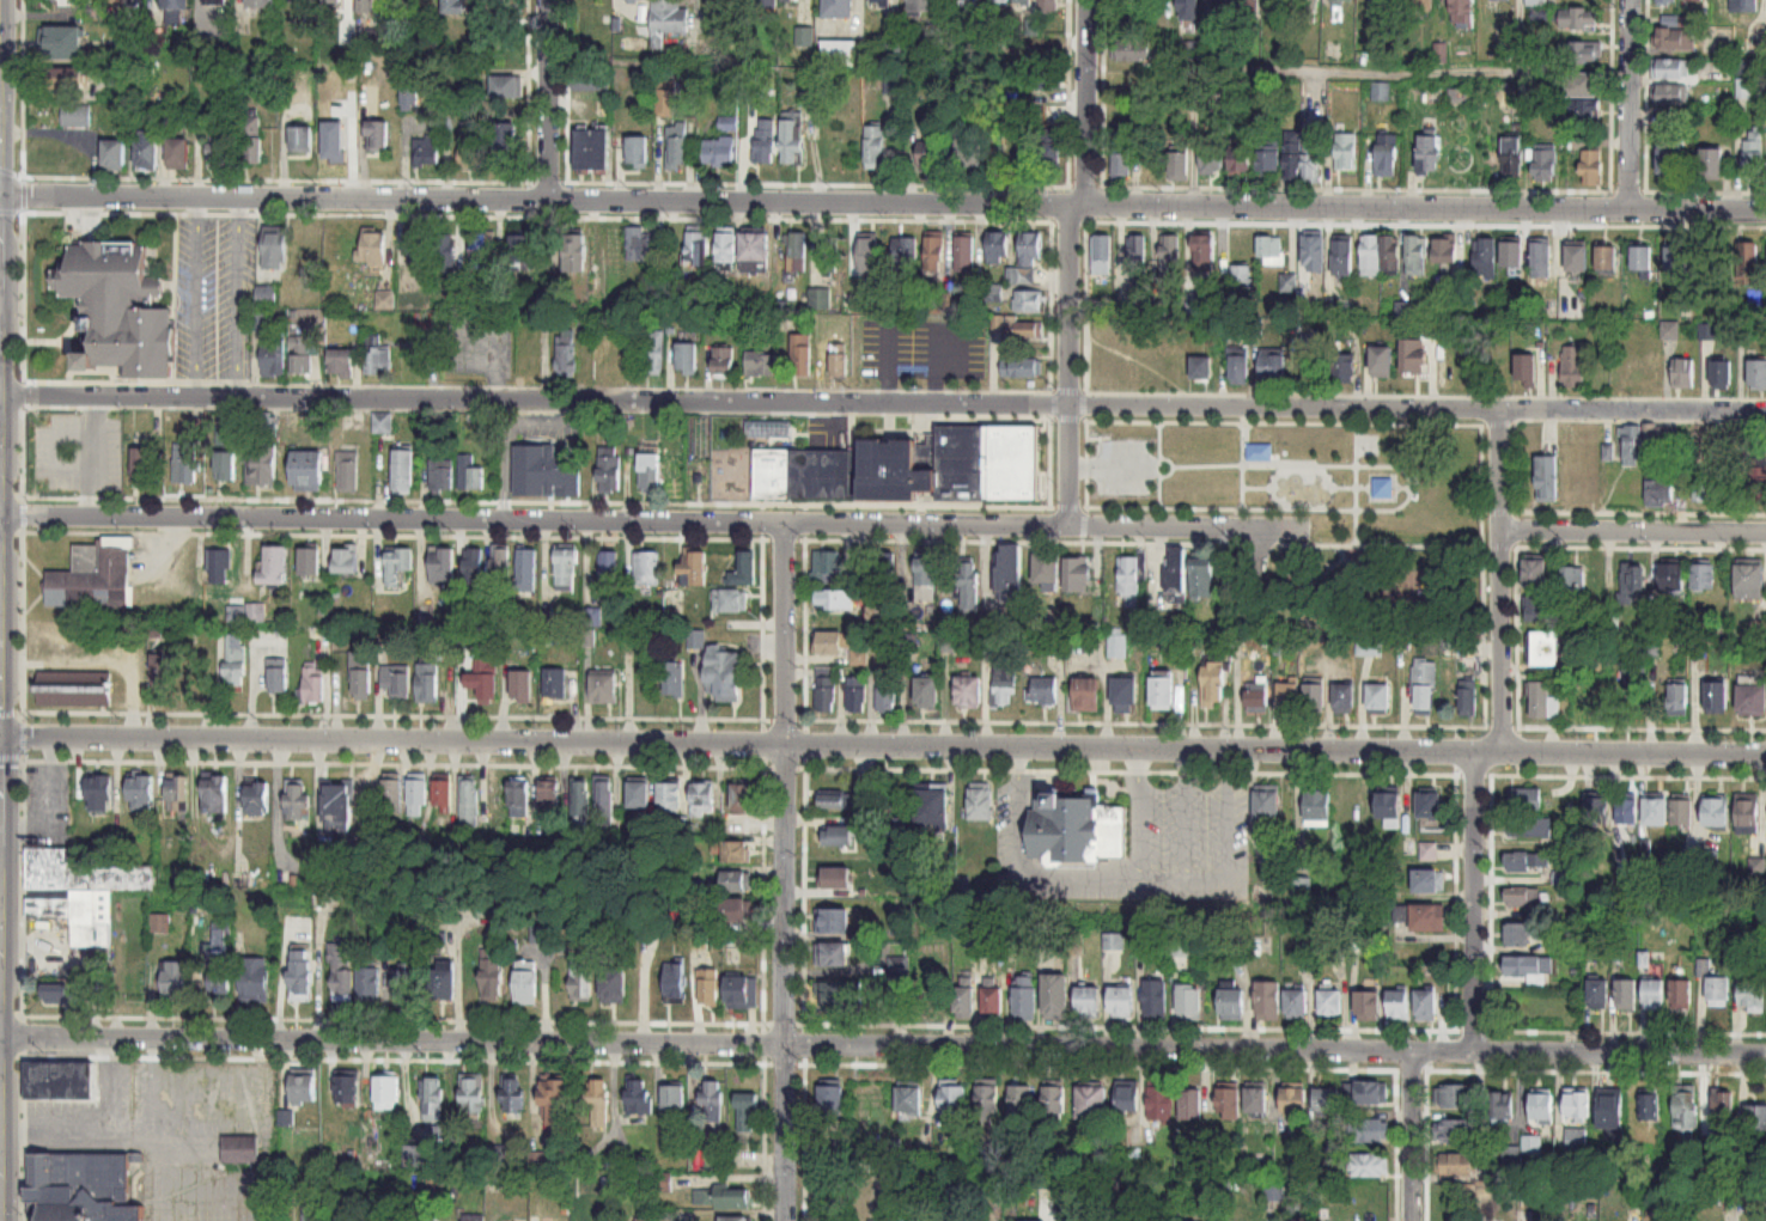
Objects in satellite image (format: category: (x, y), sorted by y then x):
building: (881, 0)
building: (1218, 0)
building: (1500, 0)
building: (296, 1)
building: (495, 1)
building: (1000, 1)
building: (1280, 1)
building: (1344, 1)
building: (1667, 1)
building: (1694, 1)
building: (1022, 2)
building: (1537, 2)
building: (65, 4)
building: (968, 4)
building: (173, 5)
building: (258, 5)
building: (390, 5)
building: (767, 5)
building: (364, 6)
building: (1423, 6)
building: (1749, 6)
building: (453, 7)
building: (922, 7)
building: (1049, 7)
building: (838, 8)
building: (1381, 8)
building: (1252, 10)
building: (1189, 11)
building: (1310, 12)
building: (1463, 14)
building: (668, 20)
building: (1578, 20)
building: (805, 37)
building: (1674, 39)
building: (60, 43)
building: (893, 45)
building: (1134, 53)
building: (1582, 53)
building: (840, 54)
building: (1671, 69)
building: (62, 79)
building: (1043, 79)
building: (1579, 85)
building: (505, 87)
building: (409, 92)
building: (1673, 94)
road: (549, 99)
road: (1086, 102)
building: (665, 103)
road: (1630, 105)
building: (1587, 114)
building: (74, 116)
building: (377, 138)
building: (300, 141)
building: (250, 142)
building: (763, 142)
building: (791, 144)
building: (503, 146)
building: (218, 148)
building: (469, 148)
building: (873, 148)
building: (427, 151)
building: (145, 152)
building: (591, 152)
building: (968, 152)
building: (676, 153)
building: (718, 153)
building: (1346, 153)
building: (635, 154)
building: (1048, 154)
building: (111, 155)
building: (176, 155)
building: (927, 155)
building: (1387, 155)
road: (1645, 155)
building: (1429, 157)
building: (1670, 158)
building: (1753, 160)
building: (1268, 161)
building: (1302, 161)
building: (1211, 163)
building: (1240, 164)
building: (1545, 164)
building: (1712, 165)
building: (1120, 166)
building: (1512, 167)
building: (1179, 169)
building: (1591, 170)
road: (278, 178)
road: (566, 181)
road: (820, 182)
road: (24, 183)
road: (1085, 184)
road: (1359, 187)
road: (882, 203)
road: (12, 213)
road: (537, 215)
road: (1068, 222)
road: (1425, 225)
building: (725, 244)
building: (641, 245)
building: (754, 245)
building: (998, 246)
building: (1271, 246)
building: (274, 248)
building: (310, 248)
building: (372, 248)
building: (695, 248)
building: (1202, 248)
building: (415, 249)
building: (1030, 249)
building: (1314, 249)
building: (480, 250)
building: (1171, 250)
building: (1445, 250)
building: (519, 251)
building: (573, 251)
building: (445, 252)
building: (798, 252)
building: (905, 252)
building: (933, 252)
building: (1381, 252)
building: (866, 254)
building: (964, 254)
building: (1512, 254)
building: (1102, 255)
building: (1415, 255)
building: (1487, 255)
building: (829, 256)
building: (1342, 256)
building: (1577, 257)
building: (1607, 257)
building: (1137, 260)
building: (1542, 260)
building: (1643, 260)
building: (1747, 262)
building: (1674, 273)
building: (1242, 276)
building: (1289, 282)
road: (173, 295)
road: (196, 297)
building: (385, 297)
road: (236, 298)
building: (820, 298)
building: (1028, 300)
road: (1085, 306)
road: (1052, 307)
building: (116, 309)
building: (1025, 329)
building: (564, 352)
building: (652, 352)
building: (802, 354)
building: (1413, 354)
building: (304, 355)
building: (377, 356)
building: (686, 358)
building: (274, 359)
building: (1382, 360)
building: (723, 361)
building: (341, 362)
building: (759, 362)
building: (839, 362)
building: (1100, 362)
building: (1023, 366)
road: (1070, 366)
building: (1345, 367)
building: (1238, 368)
building: (1526, 368)
building: (1201, 370)
building: (1272, 370)
building: (1575, 370)
building: (1683, 372)
building: (1721, 373)
building: (1758, 373)
road: (56, 379)
road: (1070, 391)
road: (1425, 397)
road: (883, 402)
road: (1055, 404)
road: (1084, 404)
road: (701, 411)
road: (1070, 417)
road: (1299, 421)
road: (1638, 421)
building: (267, 422)
building: (383, 423)
building: (769, 428)
building: (1570, 434)
building: (1656, 435)
road: (1097, 439)
building: (1633, 444)
building: (1259, 448)
road: (1108, 451)
road: (1242, 457)
road: (1051, 460)
building: (262, 462)
building: (909, 463)
road: (1330, 463)
building: (184, 464)
building: (224, 464)
road: (1115, 464)
parking lot: (1123, 464)
road: (1161, 464)
road: (1171, 464)
road: (1356, 464)
building: (145, 465)
building: (306, 468)
building: (546, 470)
building: (347, 471)
building: (402, 471)
building: (648, 471)
building: (608, 472)
building: (440, 474)
building: (469, 475)
building: (1547, 477)
road: (1088, 478)
road: (1329, 482)
water park: (1301, 483)
road: (1257, 484)
road: (1351, 484)
road: (1382, 484)
road: (1400, 484)
building: (1706, 484)
building: (1759, 484)
building: (1383, 487)
building: (1582, 489)
building: (1661, 490)
road: (330, 500)
road: (1202, 508)
park: (1316, 509)
road: (1497, 512)
road: (24, 514)
road: (535, 520)
road: (1189, 526)
road: (1237, 526)
road: (1357, 526)
road: (1633, 530)
road: (784, 539)
road: (763, 541)
road: (991, 542)
road: (1420, 545)
road: (1498, 547)
road: (1260, 551)
building: (345, 560)
building: (309, 561)
road: (1356, 562)
building: (274, 563)
building: (218, 564)
building: (396, 564)
building: (440, 564)
building: (471, 566)
building: (608, 566)
building: (694, 567)
building: (824, 567)
road: (1377, 567)
building: (500, 568)
building: (646, 568)
building: (1177, 568)
building: (525, 569)
building: (565, 569)
building: (1048, 569)
building: (743, 570)
building: (885, 570)
building: (1009, 572)
road: (1328, 572)
building: (1536, 572)
building: (1078, 573)
road: (1516, 573)
road: (1484, 574)
building: (93, 575)
building: (1671, 575)
building: (1703, 575)
building: (925, 578)
building: (1575, 578)
building: (1749, 579)
building: (1202, 580)
road: (1500, 580)
building: (1129, 581)
building: (1633, 581)
building: (969, 586)
building: (834, 597)
building: (729, 600)
building: (1540, 609)
building: (256, 612)
building: (879, 615)
building: (829, 642)
building: (1118, 645)
building: (1370, 646)
building: (1546, 648)
building: (858, 655)
building: (235, 659)
building: (160, 670)
building: (721, 673)
building: (278, 674)
building: (360, 676)
building: (483, 678)
building: (672, 678)
building: (396, 680)
building: (426, 683)
building: (312, 684)
building: (1212, 684)
building: (520, 685)
building: (554, 685)
building: (1004, 686)
building: (1632, 686)
building: (1424, 688)
building: (602, 689)
building: (1042, 690)
building: (926, 691)
building: (968, 691)
building: (1123, 691)
building: (1162, 691)
building: (73, 694)
building: (824, 694)
building: (855, 694)
building: (884, 694)
building: (1085, 694)
building: (1717, 696)
building: (1315, 697)
building: (1344, 697)
building: (1378, 697)
building: (1679, 697)
building: (1287, 698)
building: (1467, 698)
building: (1752, 698)
building: (1256, 700)
building: (1541, 700)
building: (1595, 706)
road: (1502, 727)
road: (24, 734)
road: (882, 747)
road: (767, 765)
road: (1, 789)
building: (98, 792)
building: (391, 792)
building: (140, 793)
building: (416, 793)
building: (440, 793)
building: (214, 795)
building: (638, 795)
building: (518, 796)
building: (176, 798)
building: (256, 798)
building: (548, 798)
building: (744, 798)
building: (297, 799)
building: (604, 799)
building: (668, 799)
building: (1526, 799)
building: (579, 800)
building: (701, 800)
building: (835, 800)
building: (337, 802)
building: (468, 802)
building: (979, 802)
building: (1388, 804)
building: (1267, 806)
building: (1353, 806)
building: (1429, 806)
building: (1317, 807)
building: (930, 808)
building: (1626, 808)
building: (1595, 811)
building: (1655, 811)
building: (1716, 811)
building: (1682, 812)
road: (1137, 813)
road: (1185, 813)
building: (1748, 816)
building: (1074, 828)
building: (1530, 829)
building: (838, 836)
building: (1430, 851)
building: (736, 853)
building: (1527, 863)
building: (49, 868)
road: (786, 872)
road: (1123, 877)
building: (836, 878)
building: (737, 881)
building: (1429, 881)
building: (1521, 896)
building: (99, 902)
road: (1474, 904)
building: (49, 909)
building: (735, 910)
building: (1429, 917)
building: (833, 921)
building: (543, 934)
building: (1522, 935)
building: (833, 954)
building: (1528, 965)
building: (341, 972)
building: (300, 976)
building: (493, 978)
building: (175, 979)
building: (444, 979)
building: (583, 979)
building: (218, 981)
building: (99, 982)
building: (133, 982)
building: (676, 983)
building: (369, 984)
building: (406, 984)
building: (526, 984)
building: (615, 985)
building: (1652, 985)
building: (710, 987)
building: (254, 989)
building: (63, 991)
building: (742, 991)
building: (1598, 991)
building: (1718, 991)
building: (897, 993)
building: (1056, 994)
building: (1627, 994)
building: (1682, 994)
building: (1753, 995)
building: (841, 996)
building: (993, 996)
building: (1025, 997)
building: (1155, 999)
building: (964, 1000)
building: (1089, 1001)
building: (1122, 1001)
building: (1190, 1001)
building: (1268, 1001)
building: (1232, 1002)
building: (1330, 1002)
building: (1297, 1003)
building: (926, 1005)
building: (1369, 1005)
building: (1399, 1005)
building: (1426, 1006)
road: (763, 1024)
road: (883, 1049)
building: (60, 1081)
road: (111, 1088)
road: (154, 1088)
building: (303, 1088)
building: (346, 1089)
building: (1366, 1092)
building: (386, 1093)
building: (473, 1093)
road: (243, 1094)
building: (513, 1094)
building: (434, 1097)
building: (639, 1097)
building: (674, 1097)
building: (1454, 1097)
building: (1128, 1098)
building: (555, 1099)
building: (954, 1099)
building: (1255, 1099)
building: (1327, 1099)
building: (911, 1100)
building: (988, 1100)
building: (1293, 1100)
building: (599, 1101)
building: (713, 1103)
building: (1229, 1103)
building: (1021, 1104)
building: (1161, 1104)
building: (1189, 1104)
building: (1091, 1105)
building: (1500, 1105)
building: (1578, 1105)
building: (1054, 1106)
building: (1542, 1107)
building: (1649, 1109)
building: (832, 1110)
building: (1687, 1111)
building: (1612, 1112)
building: (748, 1116)
building: (1755, 1121)
building: (1370, 1130)
building: (1455, 1130)
road: (104, 1134)
road: (1415, 1137)
building: (240, 1150)
road: (1, 1156)
building: (1370, 1165)
building: (1454, 1165)
road: (166, 1178)
road: (225, 1179)
building: (663, 1183)
building: (84, 1186)
building: (721, 1198)
building: (425, 1219)
building: (733, 1219)
building: (906, 1219)
building: (392, 1220)

